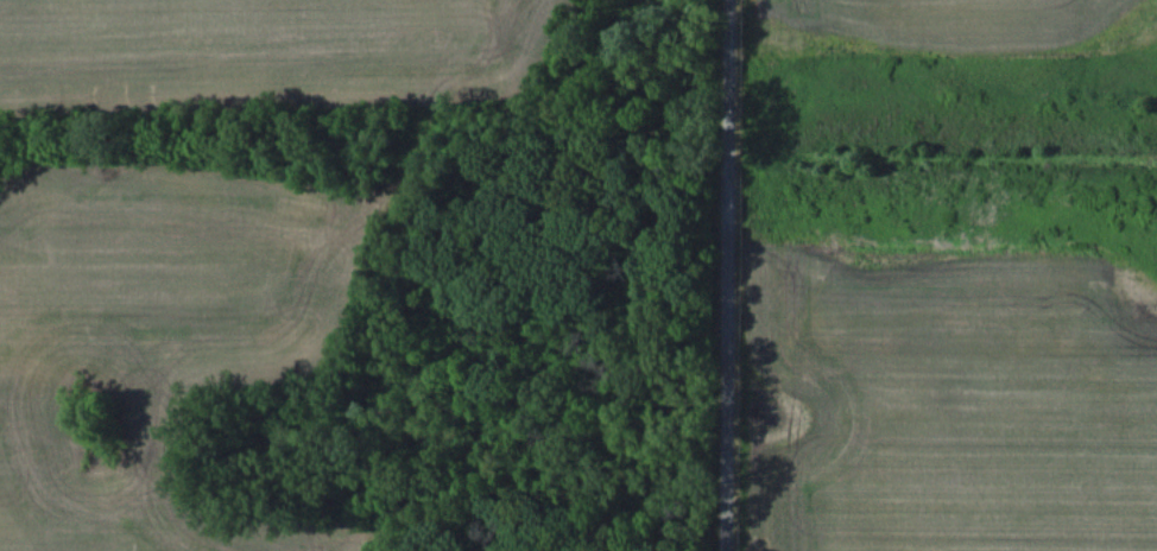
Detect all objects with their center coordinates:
road: (723, 275)

